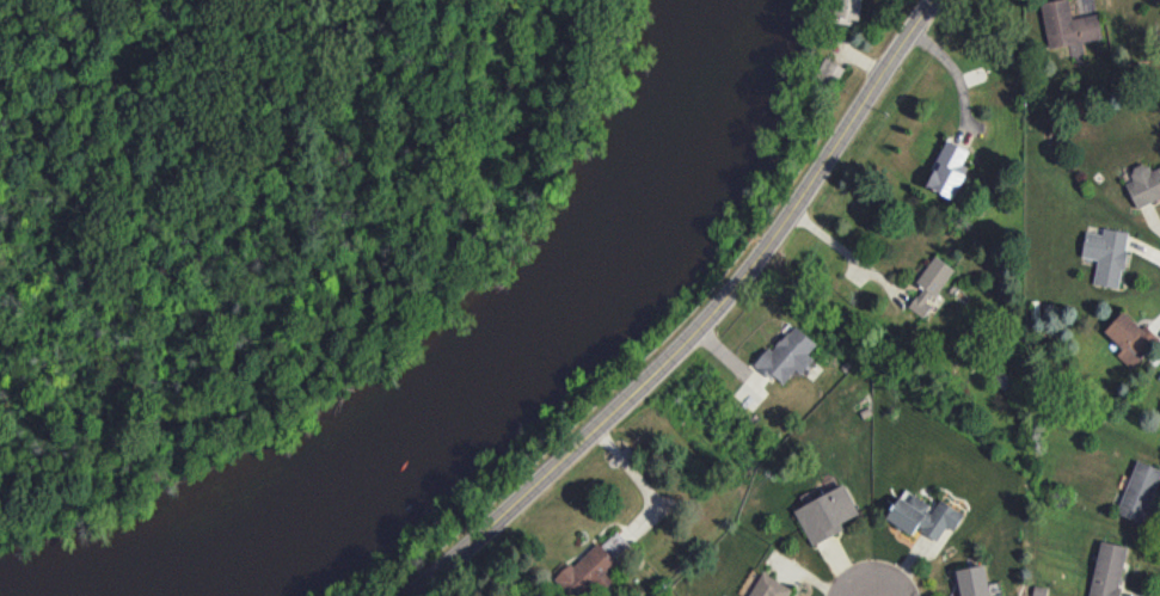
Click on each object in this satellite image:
building: (847, 8)
building: (1067, 24)
building: (829, 72)
road: (957, 74)
building: (949, 170)
building: (1144, 184)
road: (846, 253)
building: (1106, 254)
building: (929, 284)
road: (700, 327)
building: (1129, 337)
building: (787, 355)
river: (478, 365)
road: (637, 481)
building: (1138, 491)
building: (825, 514)
building: (923, 515)
building: (1107, 569)
building: (587, 572)
road: (869, 579)
building: (972, 580)
building: (768, 586)

